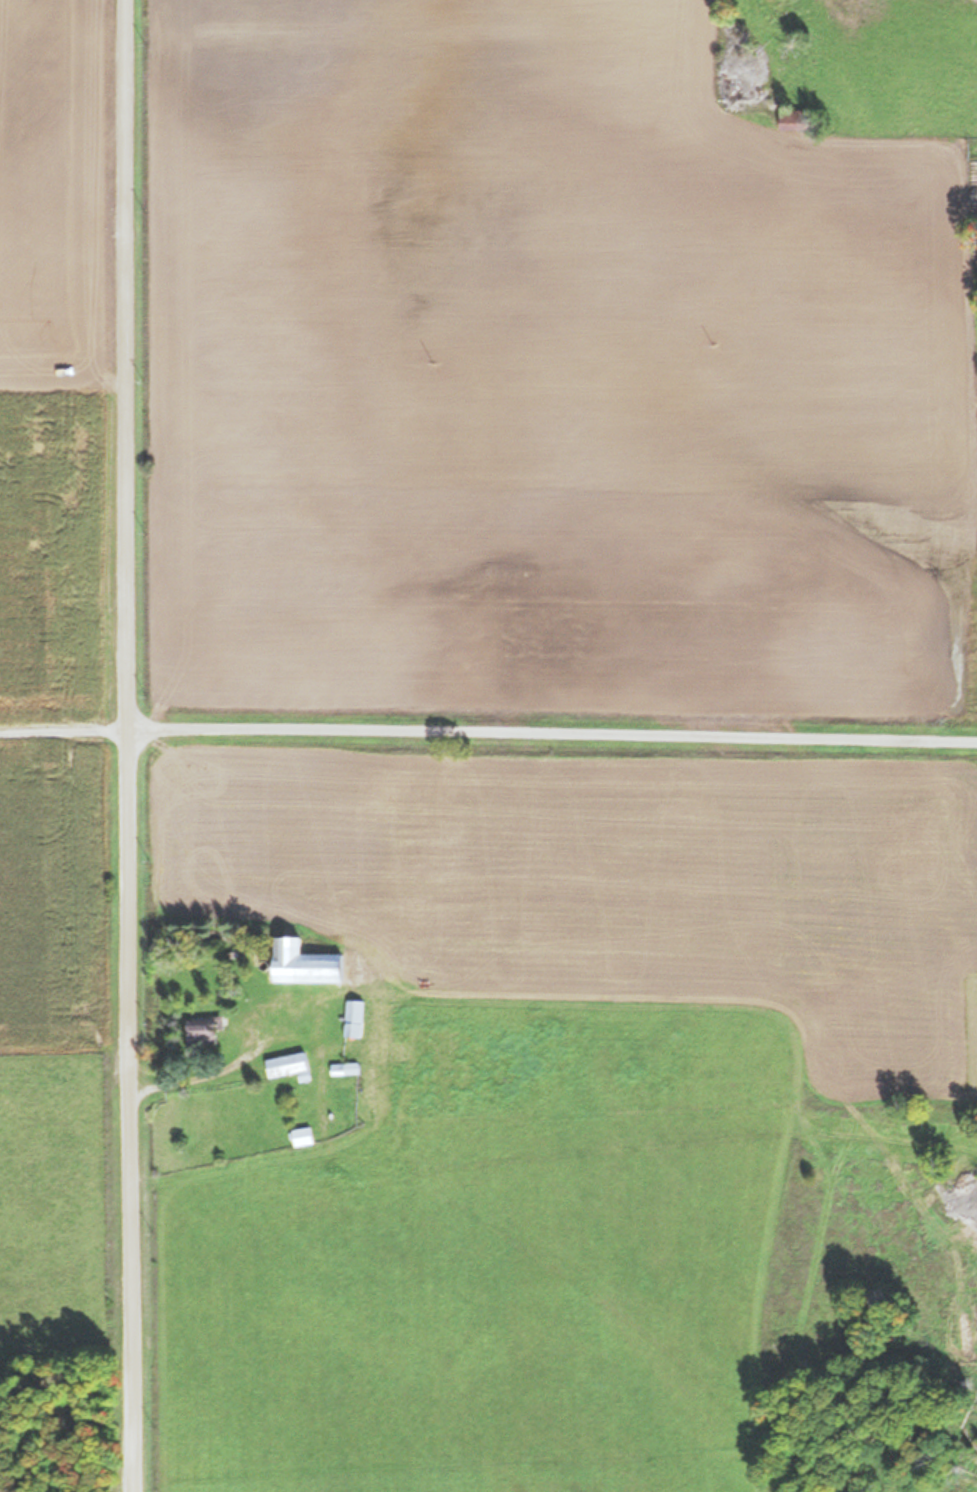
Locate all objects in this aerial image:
building: (794, 119)
road: (64, 732)
road: (553, 738)
road: (129, 746)
building: (313, 964)
building: (355, 1018)
building: (207, 1031)
building: (288, 1065)
building: (303, 1137)

